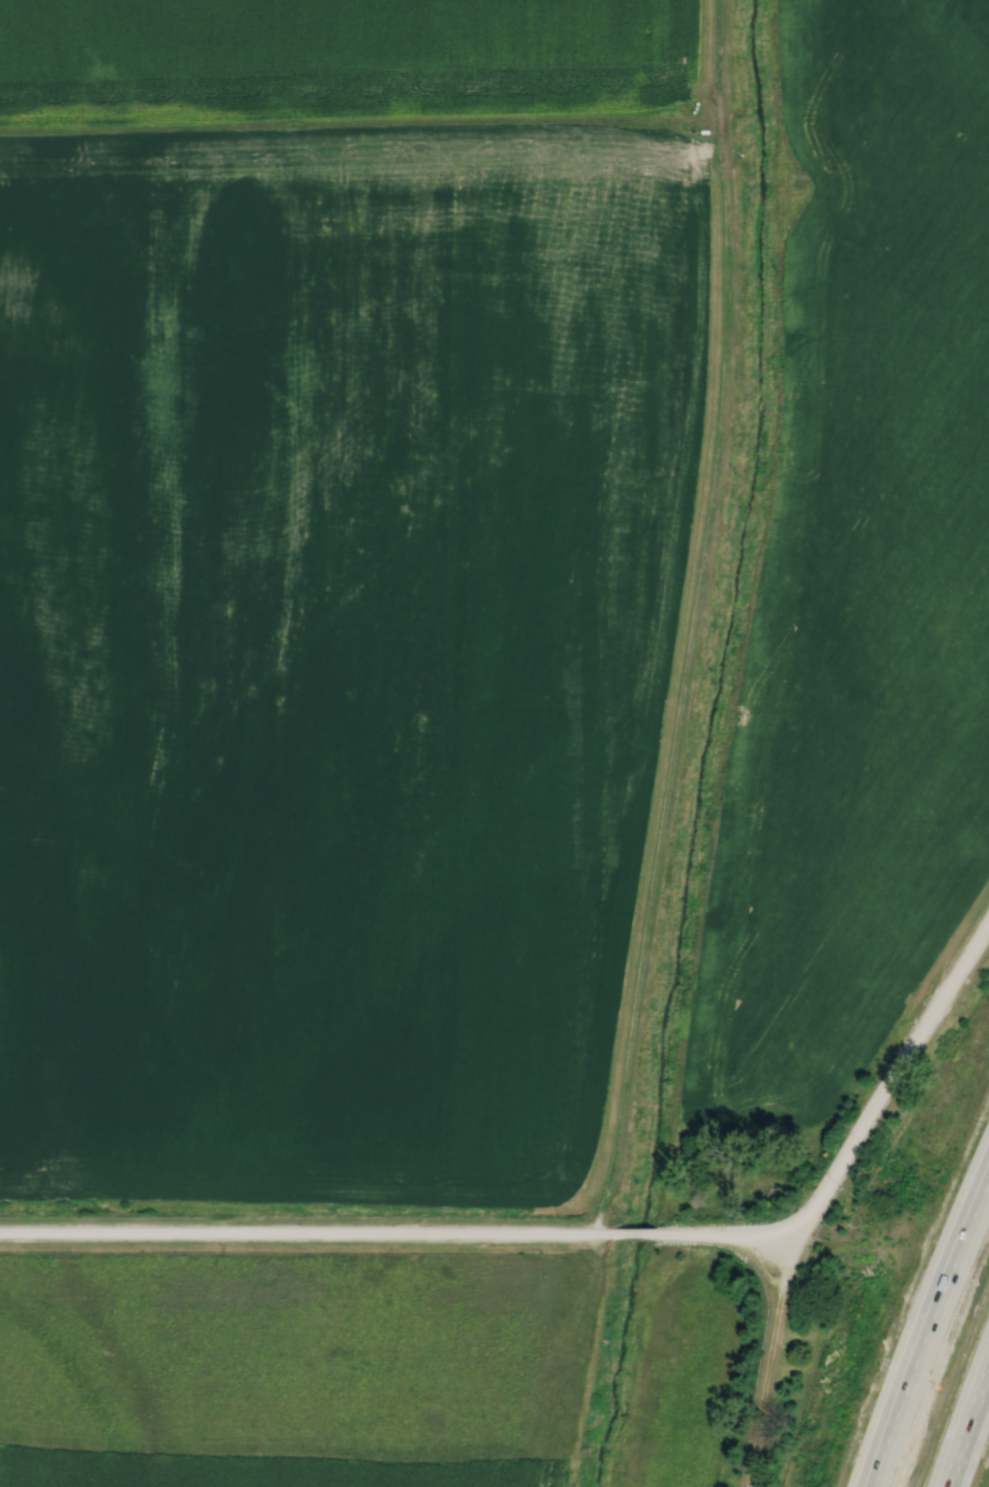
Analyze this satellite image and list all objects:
road: (827, 1191)
road: (308, 1231)
road: (638, 1232)
road: (786, 1234)
road: (933, 1341)
road: (978, 1454)

